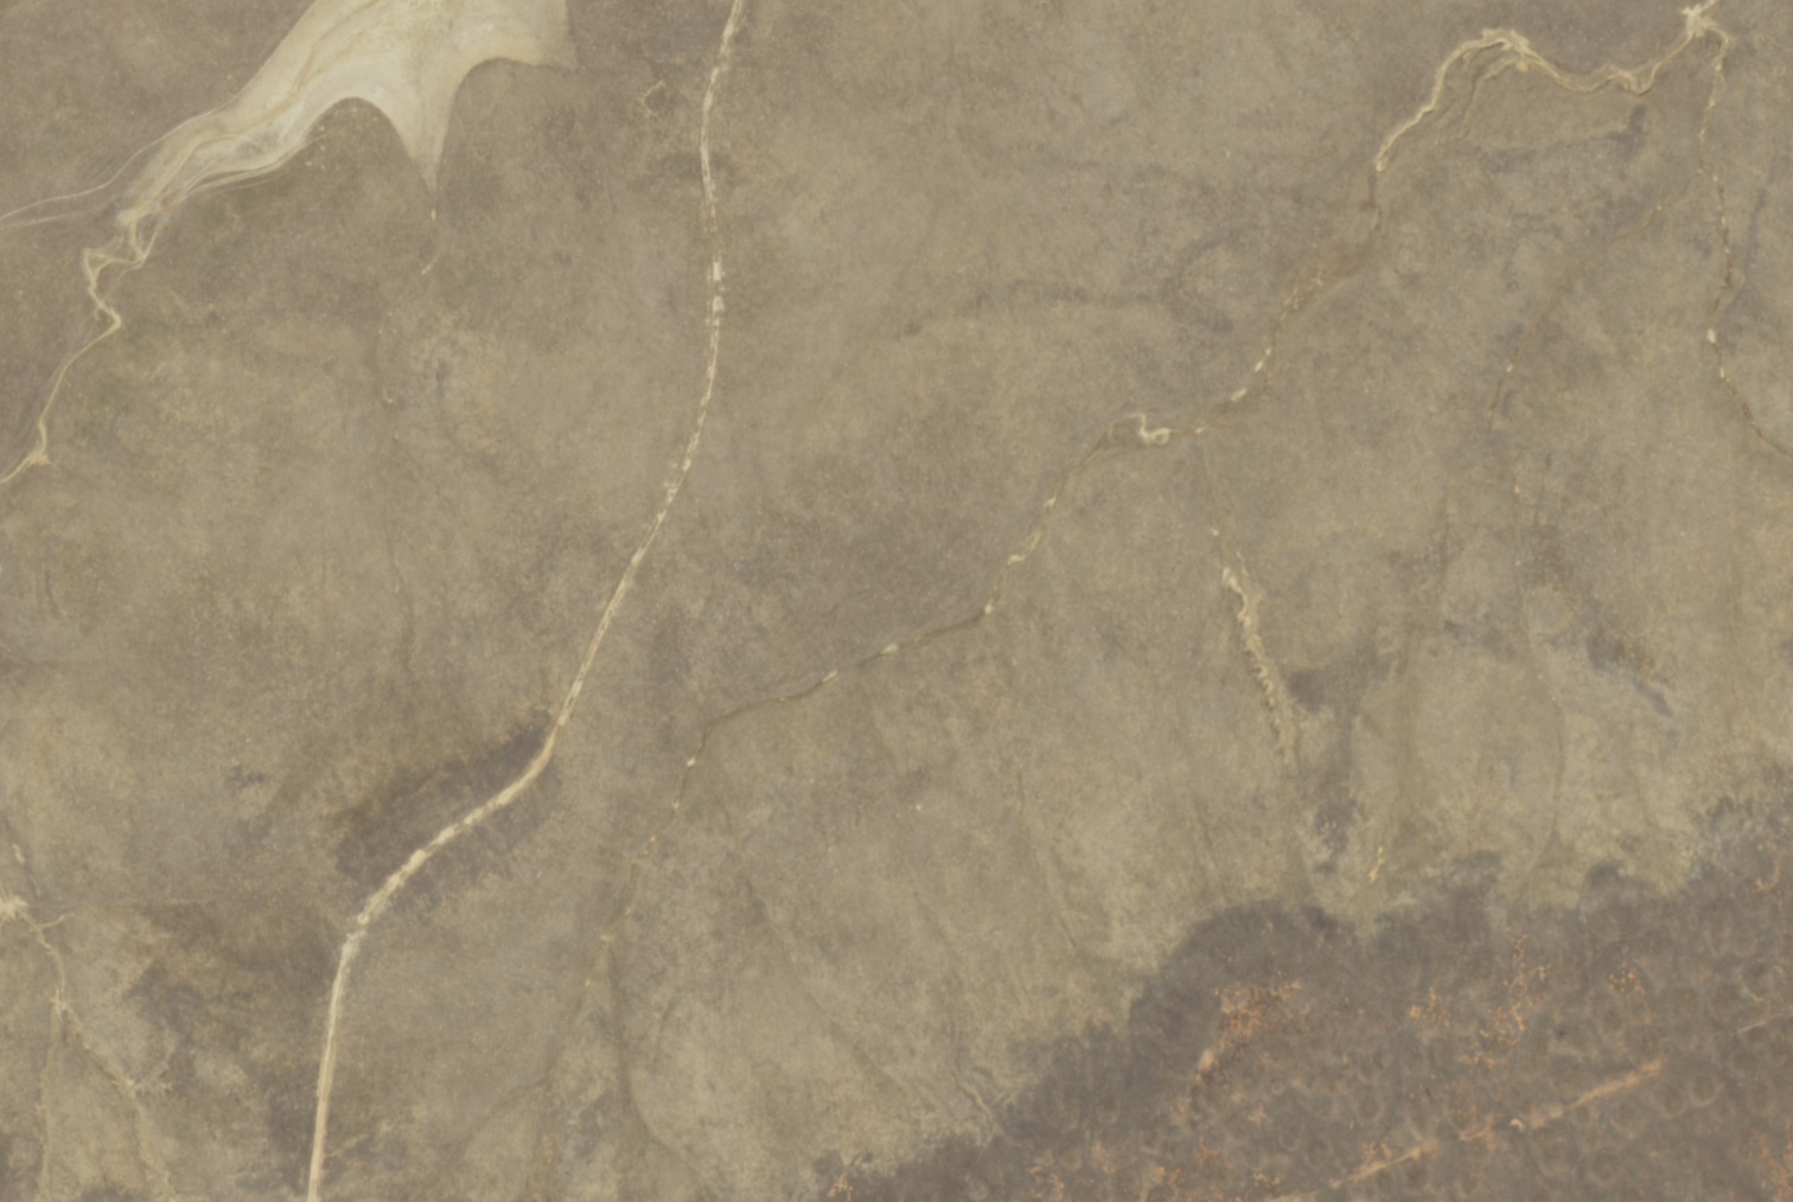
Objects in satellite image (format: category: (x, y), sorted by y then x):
road: (1540, 1114)

